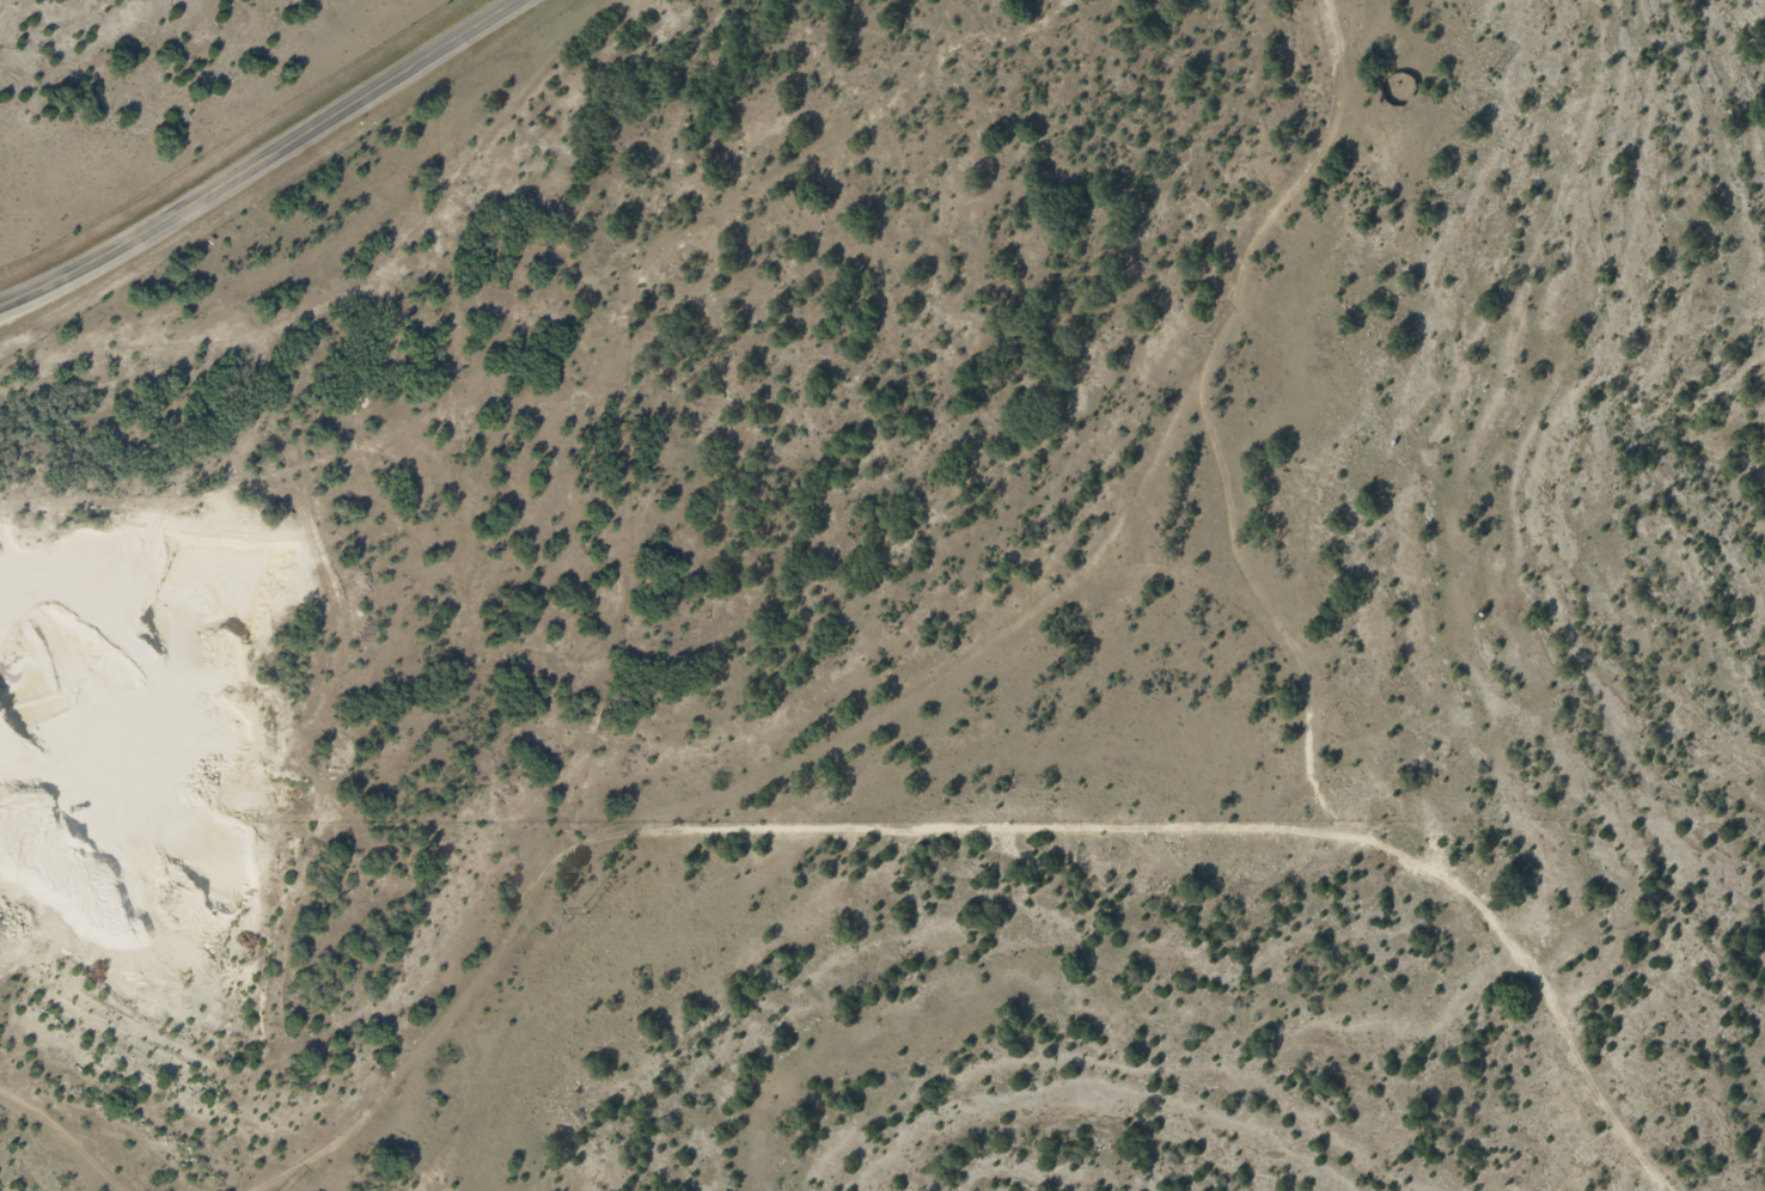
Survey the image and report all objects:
power tower: (1488, 75)
road: (269, 158)
power tower: (1196, 336)
power tower: (892, 624)
power tower: (578, 912)

